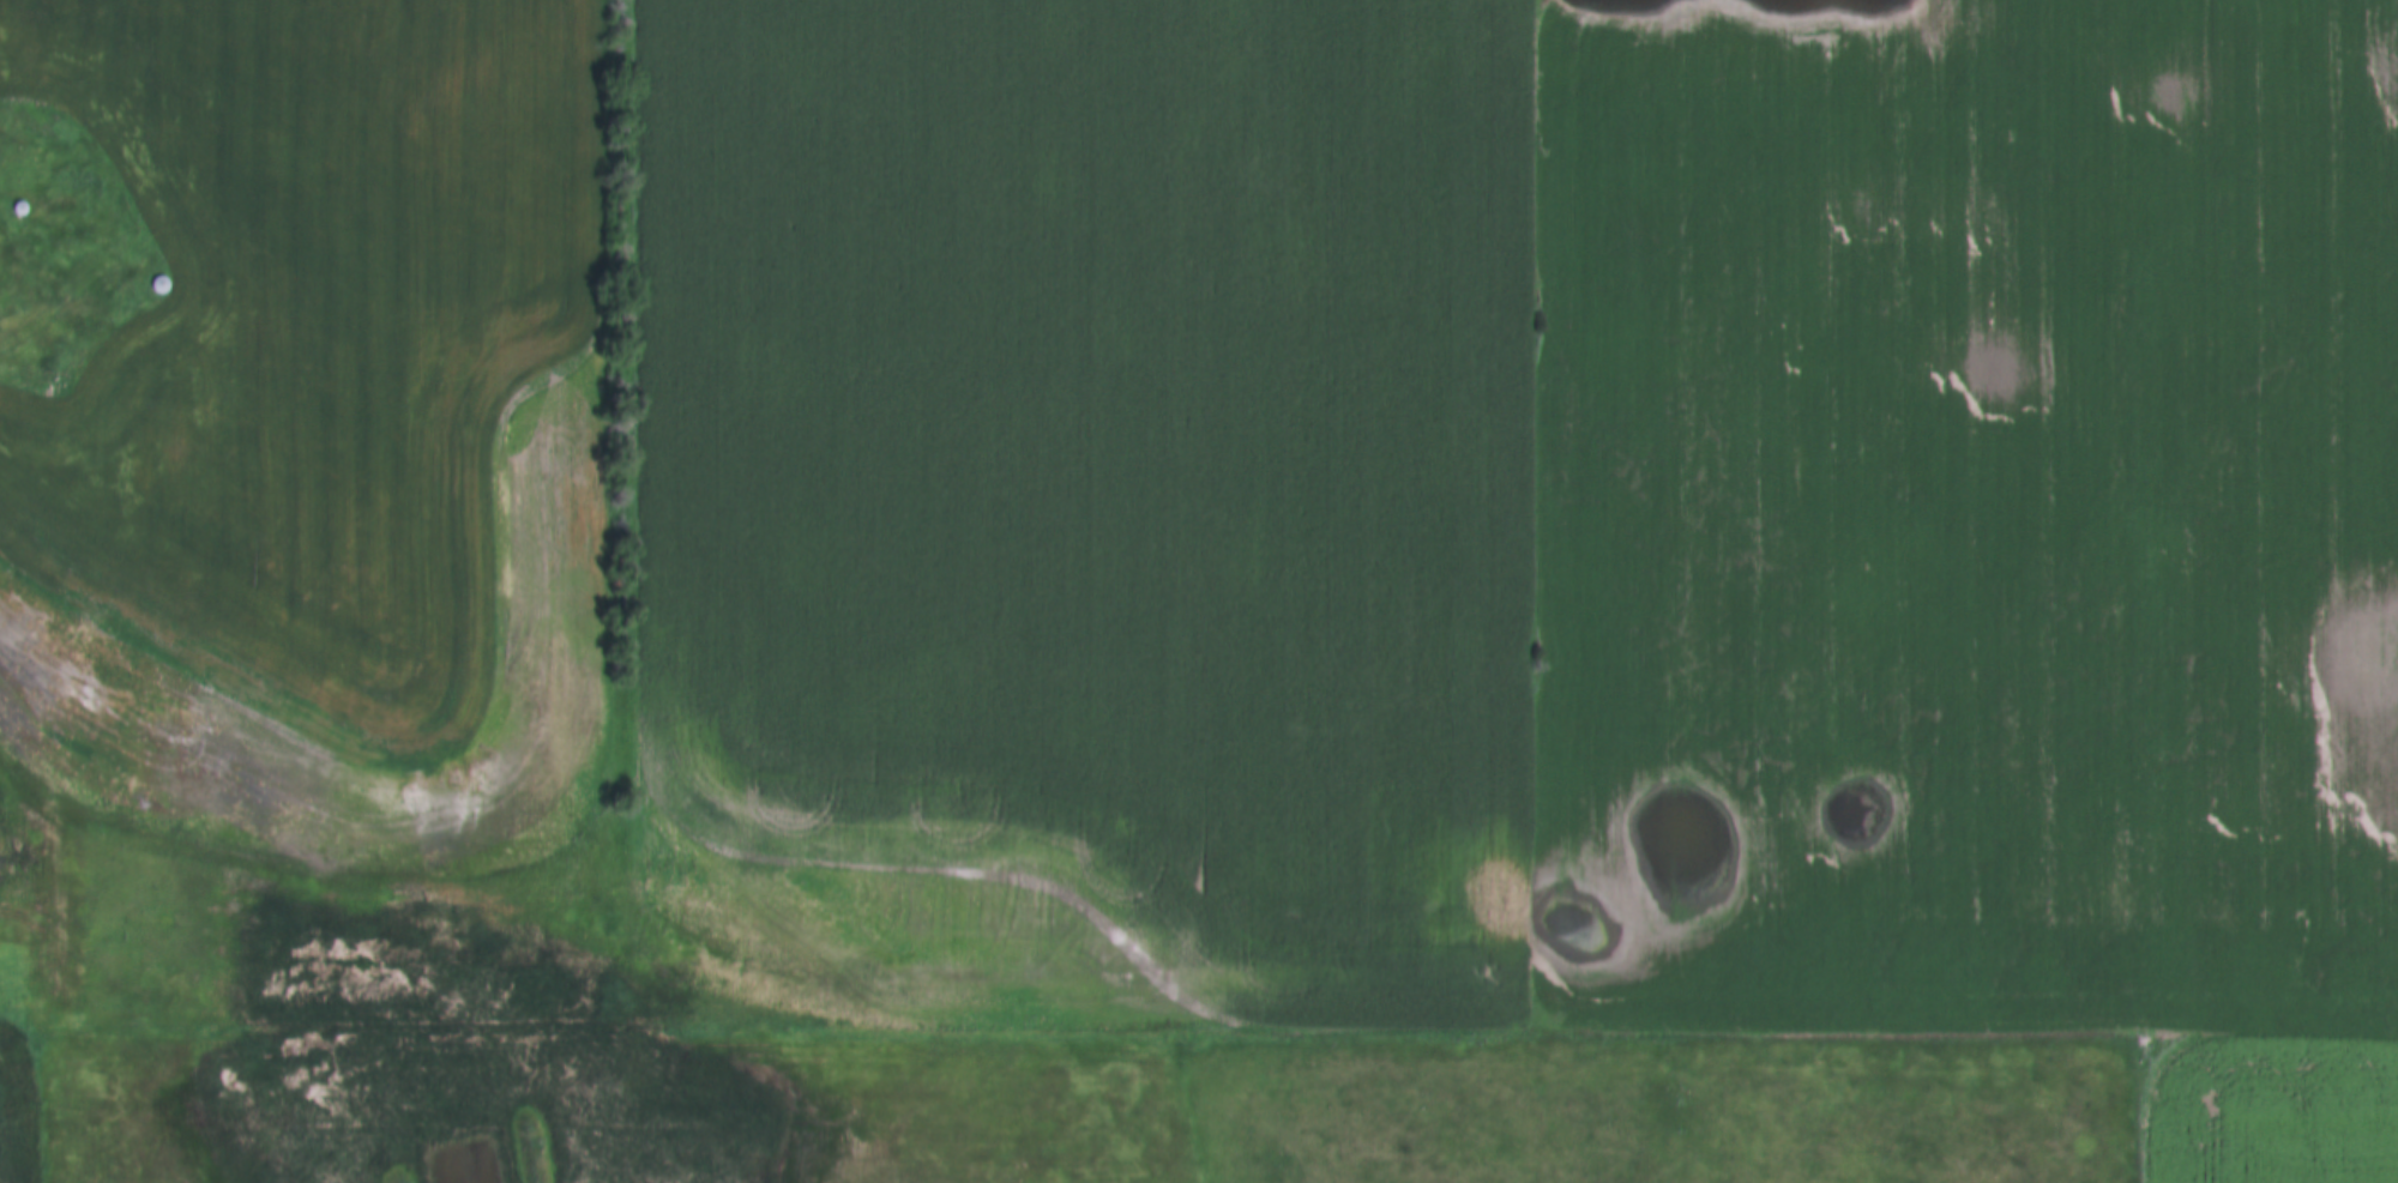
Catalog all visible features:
road: (44, 309)

